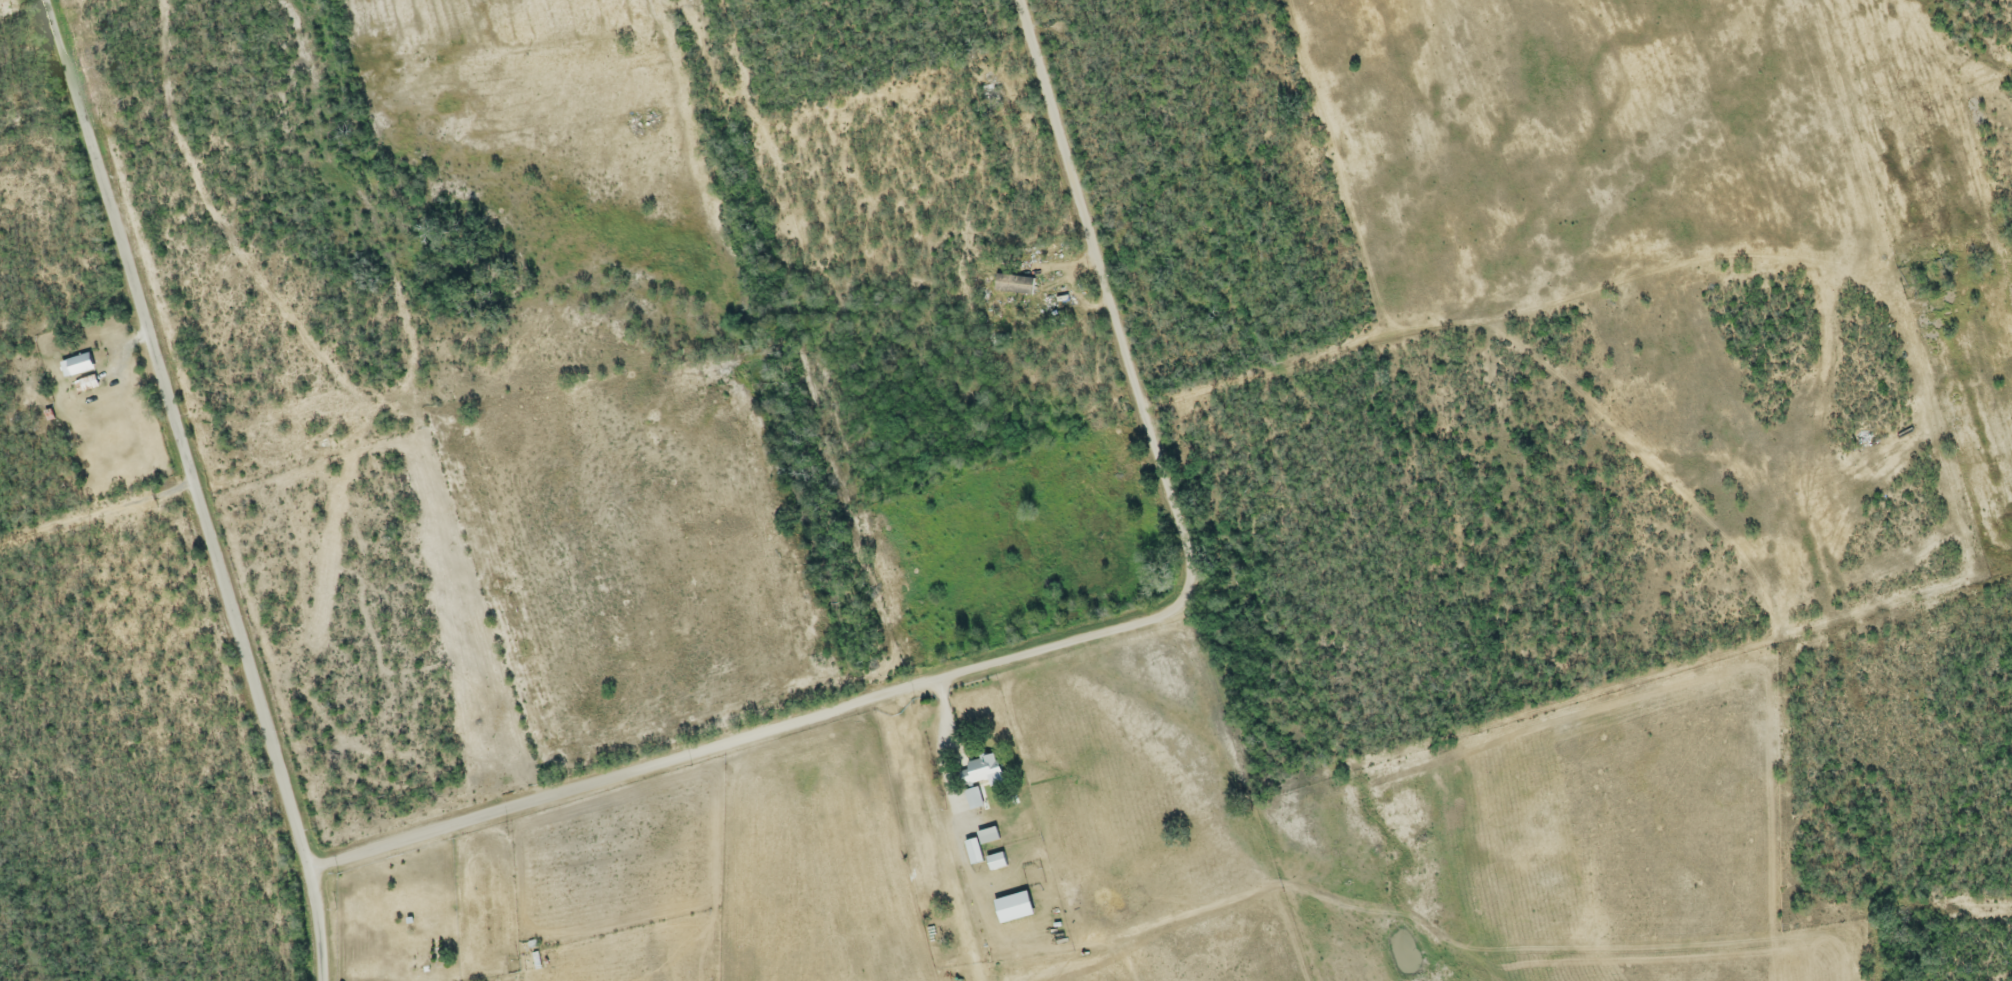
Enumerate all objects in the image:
road: (1090, 299)
building: (78, 367)
building: (87, 386)
road: (169, 436)
road: (95, 532)
road: (738, 738)
building: (977, 779)
road: (937, 836)
building: (986, 837)
building: (994, 863)
road: (311, 872)
road: (318, 928)

